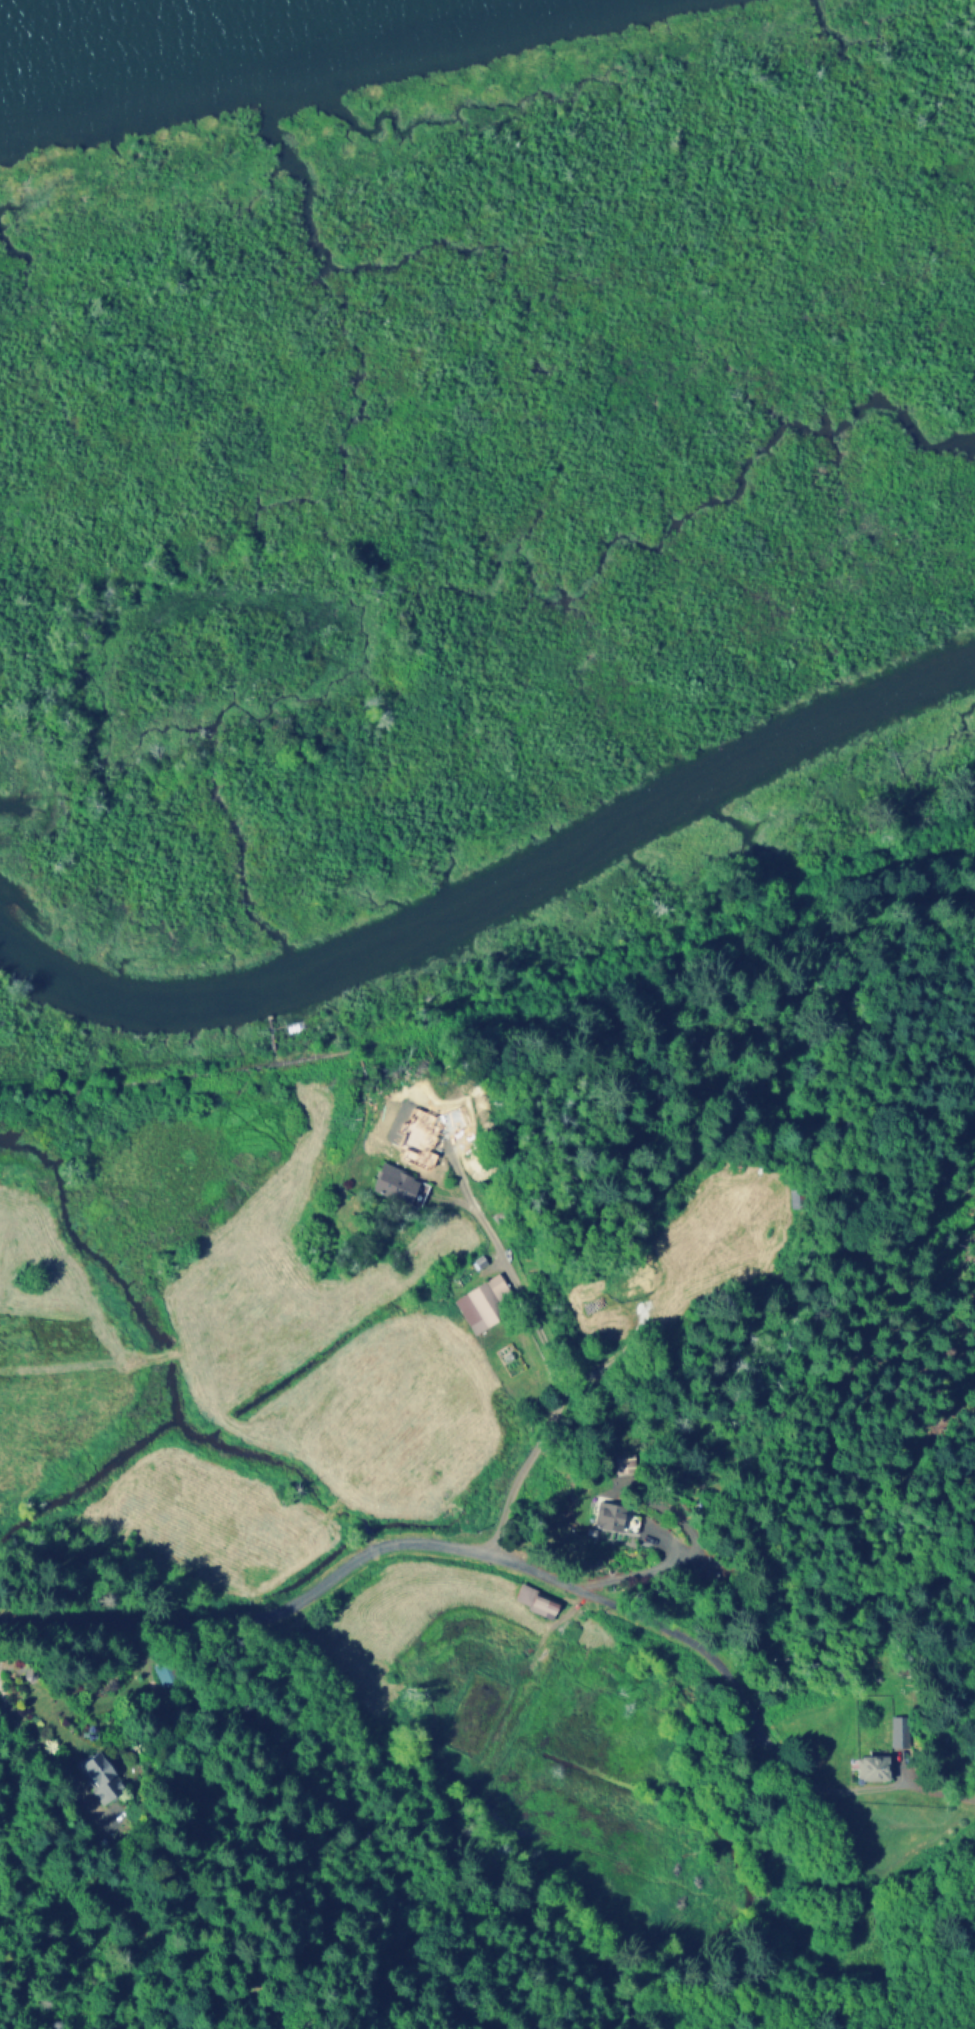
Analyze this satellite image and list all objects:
railway: (501, 1010)
building: (398, 1189)
building: (489, 1306)
building: (611, 1522)
road: (519, 1566)
building: (543, 1604)
building: (898, 1734)
building: (866, 1770)
building: (95, 1779)

